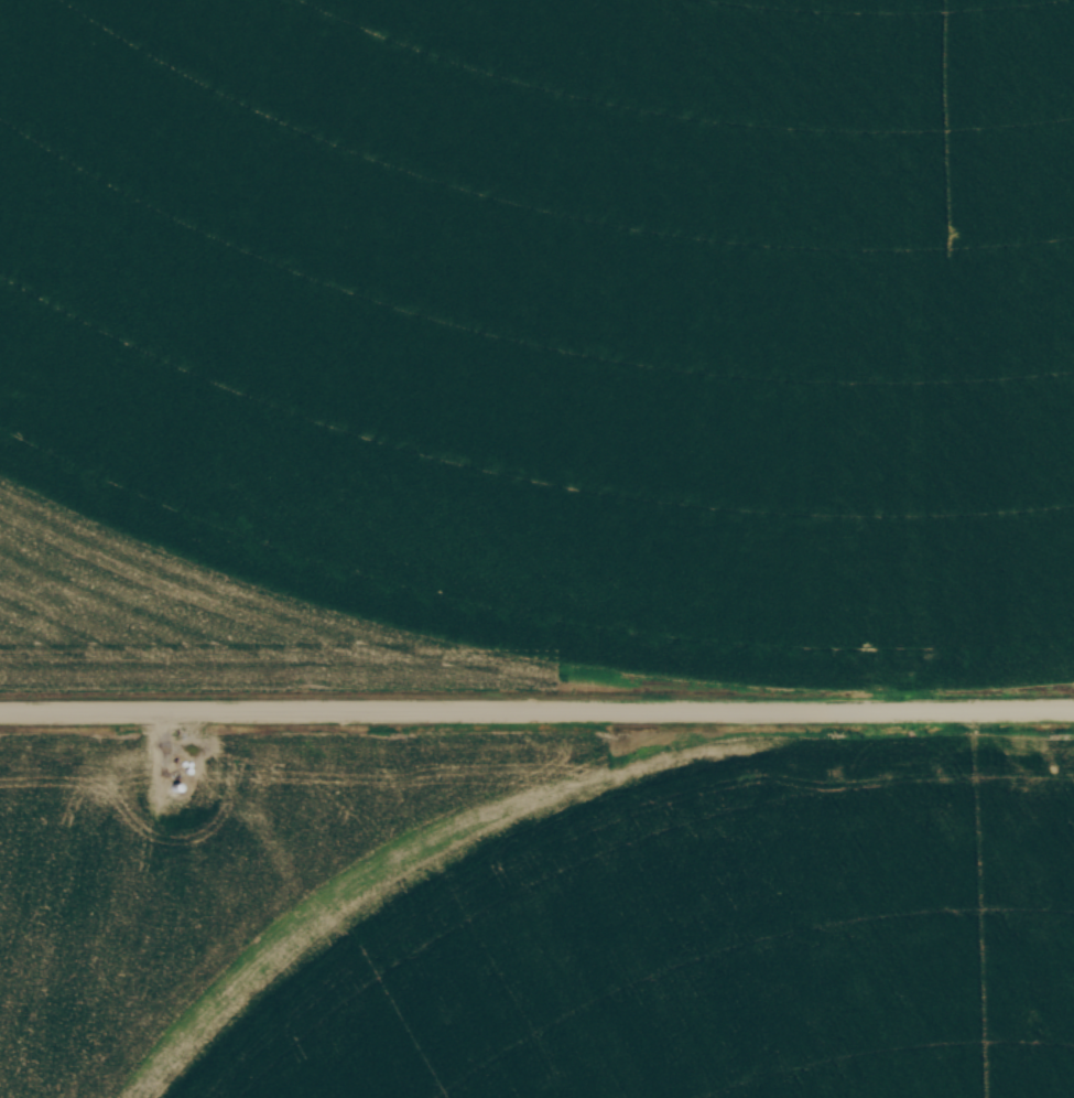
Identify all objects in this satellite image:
road: (536, 715)
crop: (205, 866)

